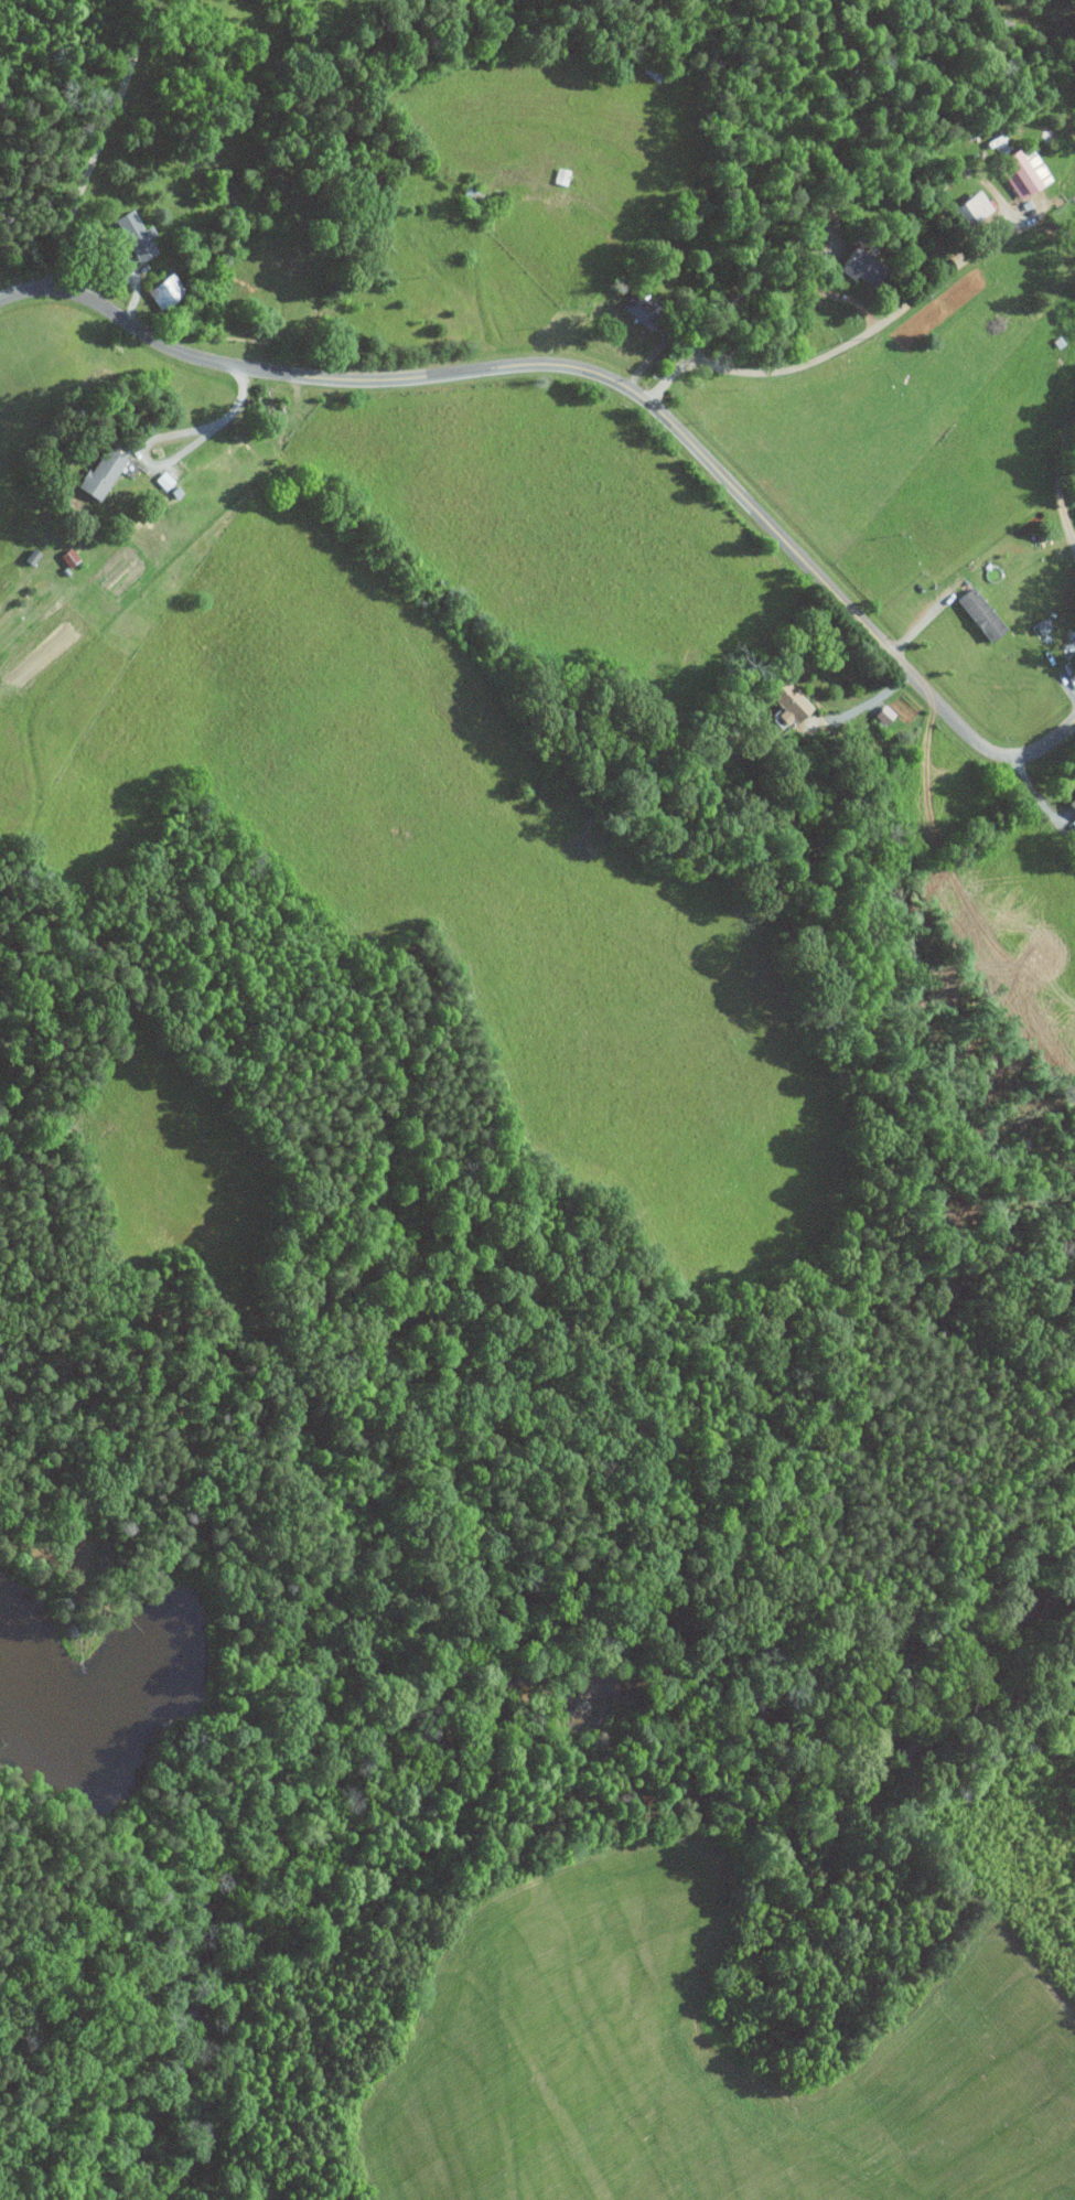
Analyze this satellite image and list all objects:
road: (95, 144)
building: (1020, 171)
building: (971, 208)
building: (131, 235)
road: (774, 261)
building: (859, 266)
building: (162, 291)
building: (639, 310)
road: (836, 352)
road: (608, 377)
road: (216, 426)
building: (96, 474)
building: (162, 480)
road: (1058, 482)
building: (978, 614)
building: (786, 701)
road: (866, 705)
road: (1041, 802)
building: (1072, 805)

